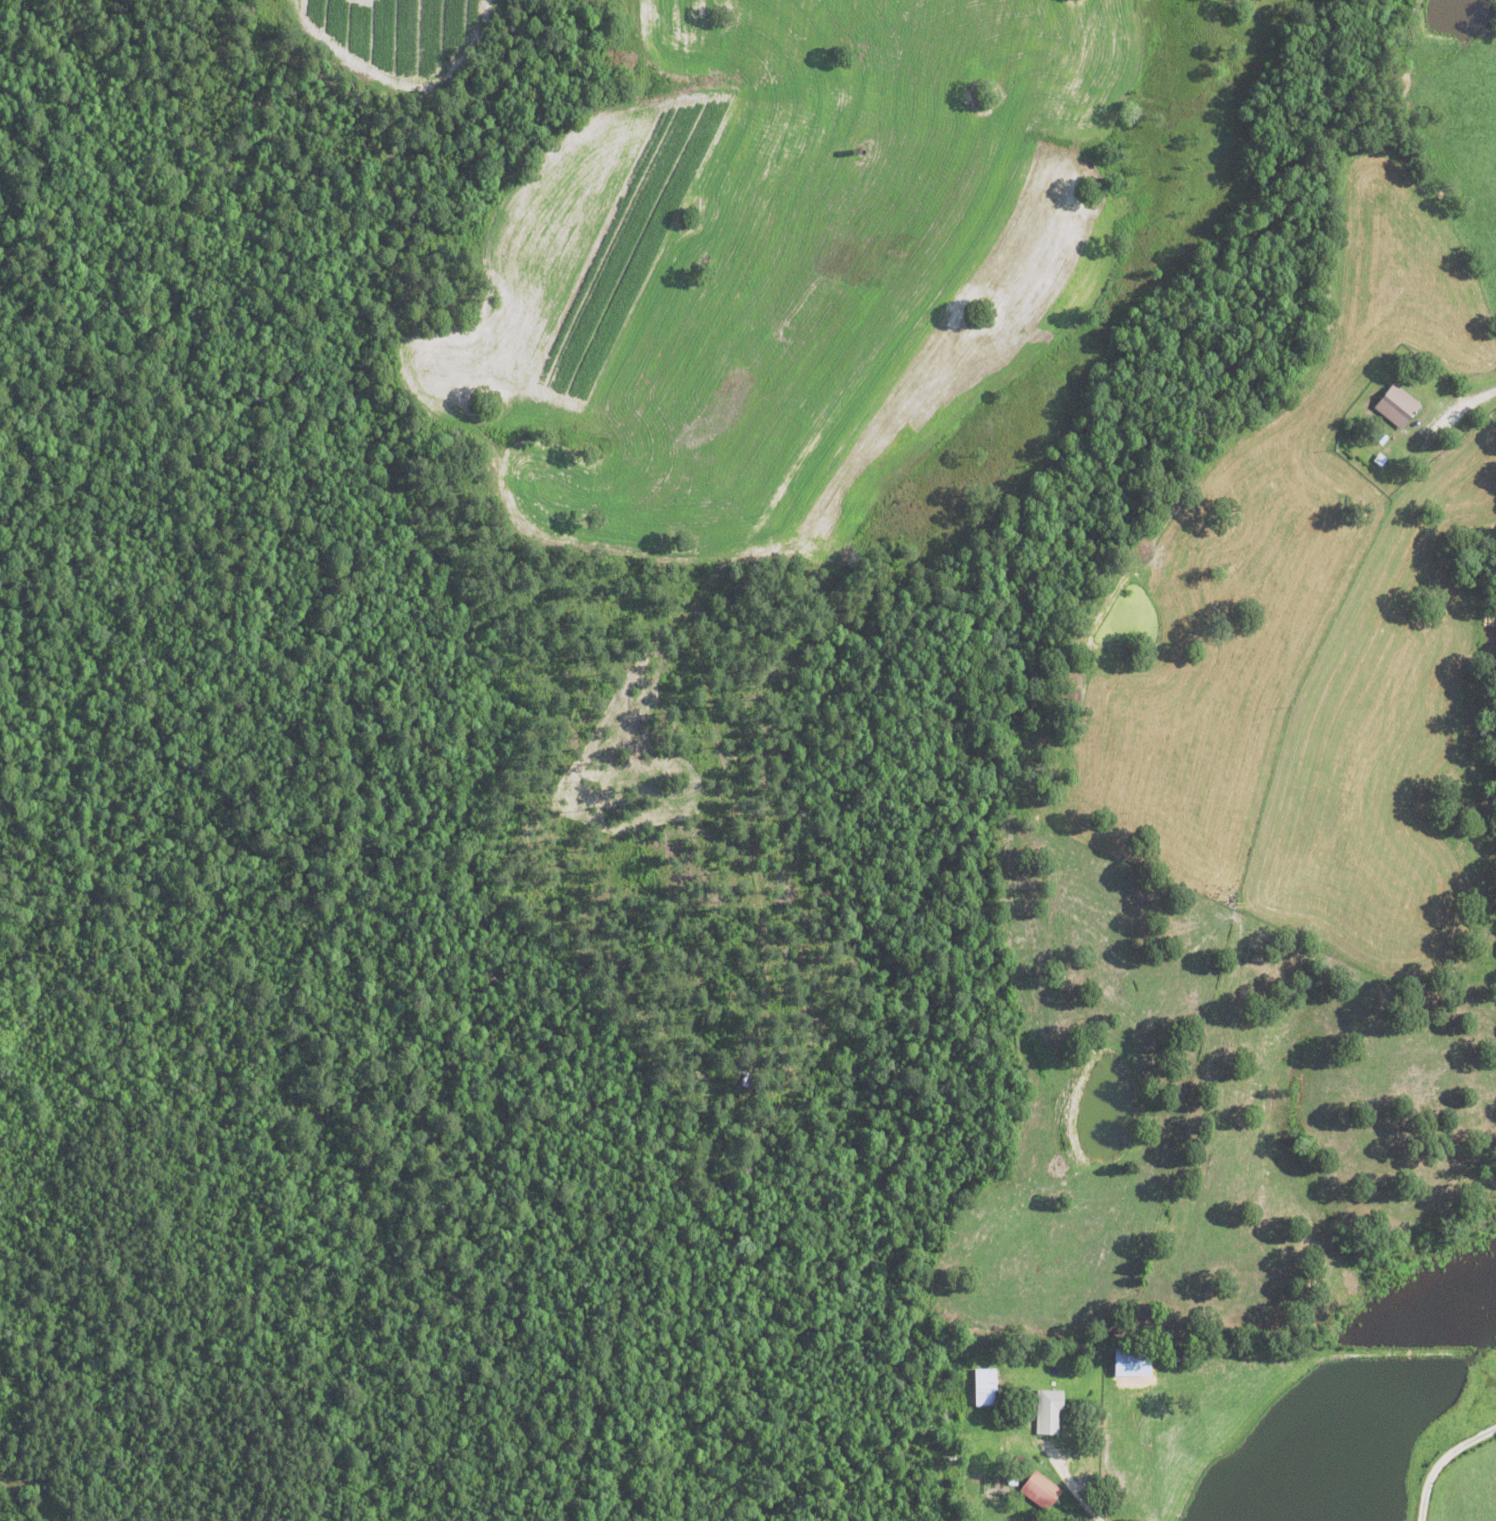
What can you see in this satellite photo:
building: (1396, 404)
building: (985, 1386)
building: (1048, 1410)
building: (1040, 1490)

